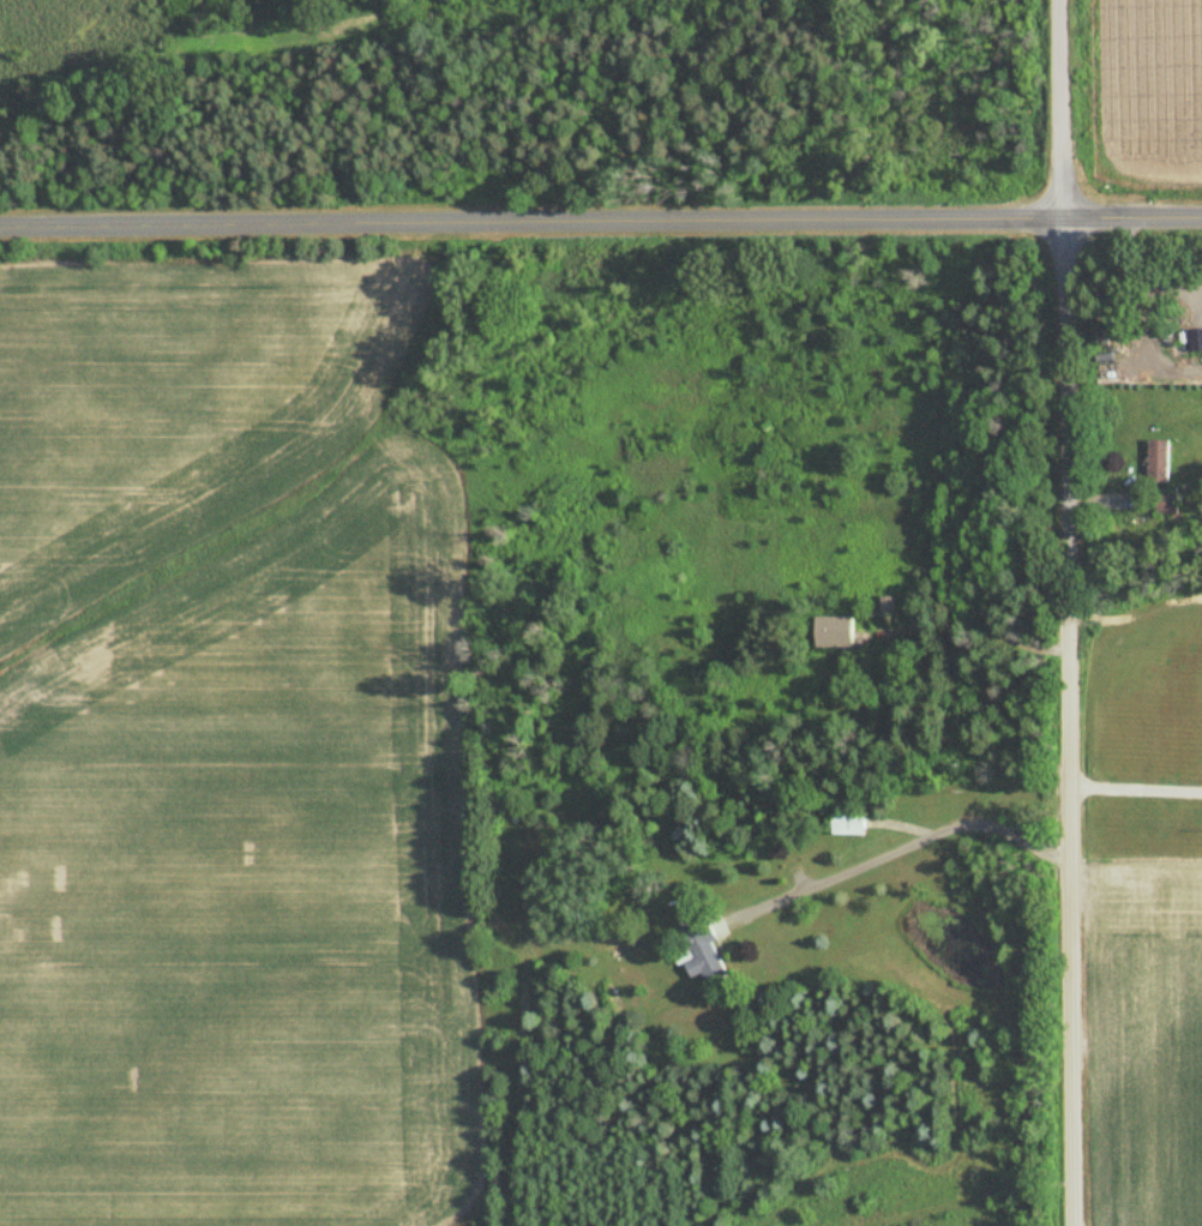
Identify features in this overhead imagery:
road: (1062, 108)
road: (601, 222)
building: (1196, 339)
building: (1161, 461)
building: (1171, 503)
building: (836, 631)
road: (1069, 721)
road: (1136, 786)
building: (849, 823)
road: (906, 841)
building: (708, 954)

